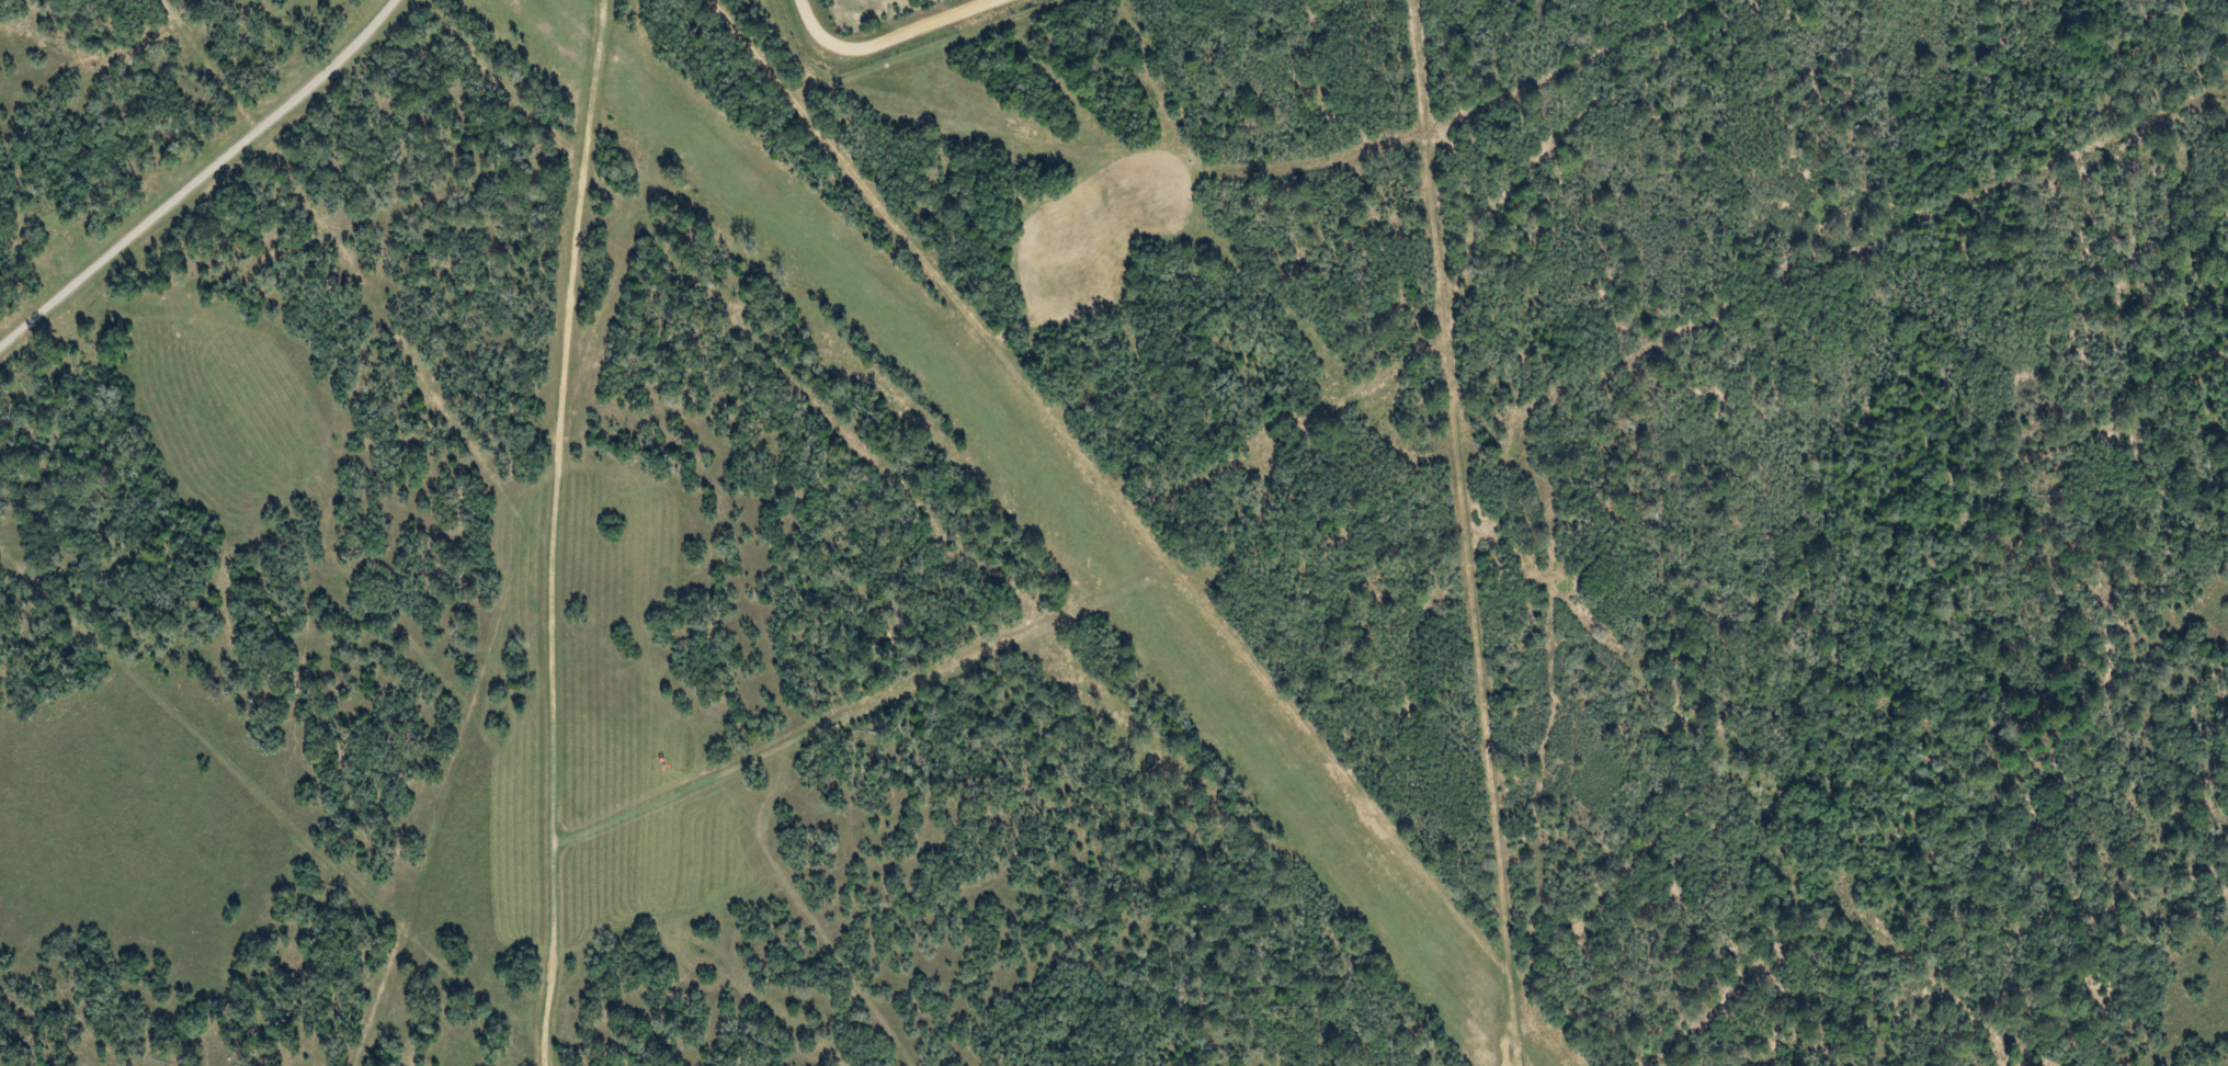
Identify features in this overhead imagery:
road: (721, 1)
road: (889, 38)
road: (189, 166)

